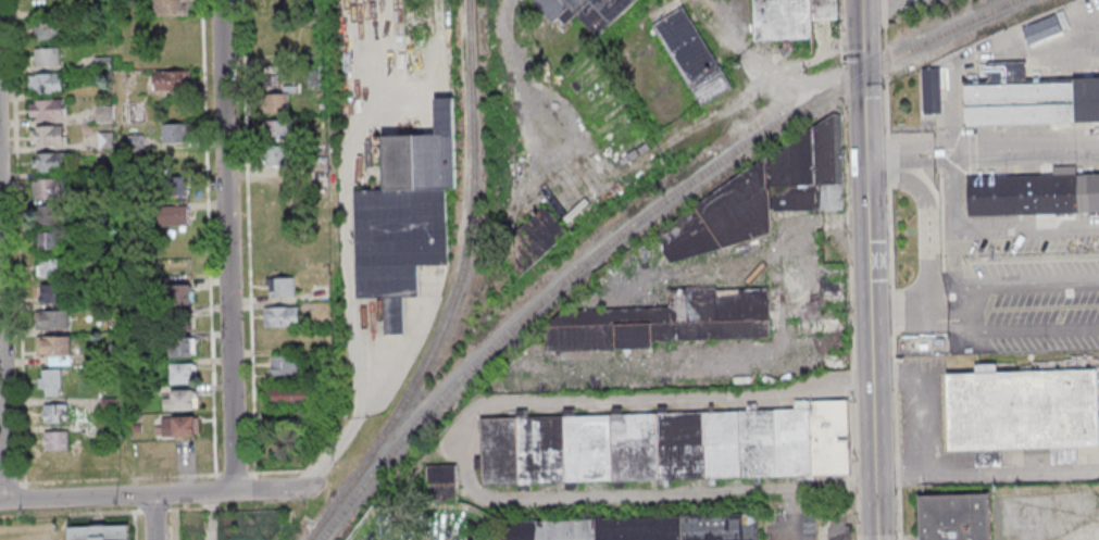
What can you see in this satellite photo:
road: (876, 4)
building: (172, 8)
building: (827, 11)
building: (587, 12)
building: (787, 21)
building: (49, 30)
building: (47, 56)
building: (694, 58)
building: (313, 77)
building: (172, 80)
building: (46, 83)
building: (1028, 101)
building: (276, 103)
building: (47, 109)
building: (104, 114)
building: (277, 129)
building: (175, 134)
building: (47, 136)
road: (1020, 153)
road: (903, 154)
building: (276, 155)
building: (423, 155)
building: (51, 161)
building: (178, 187)
building: (50, 188)
building: (763, 193)
building: (1035, 197)
building: (51, 215)
building: (175, 216)
railway: (633, 225)
building: (51, 241)
building: (399, 243)
road: (226, 246)
building: (529, 247)
building: (51, 267)
road: (353, 269)
road: (851, 269)
road: (867, 269)
railway: (457, 277)
building: (278, 287)
building: (52, 292)
building: (179, 294)
building: (282, 316)
building: (52, 319)
building: (665, 322)
road: (415, 336)
building: (180, 348)
building: (55, 349)
building: (285, 364)
building: (183, 374)
building: (49, 381)
building: (288, 395)
building: (182, 400)
building: (1022, 412)
building: (53, 413)
road: (2, 423)
building: (175, 426)
building: (55, 440)
building: (665, 444)
building: (442, 482)
road: (143, 495)
road: (152, 517)
building: (958, 520)
building: (682, 527)
building: (551, 529)
road: (795, 531)
building: (100, 532)

